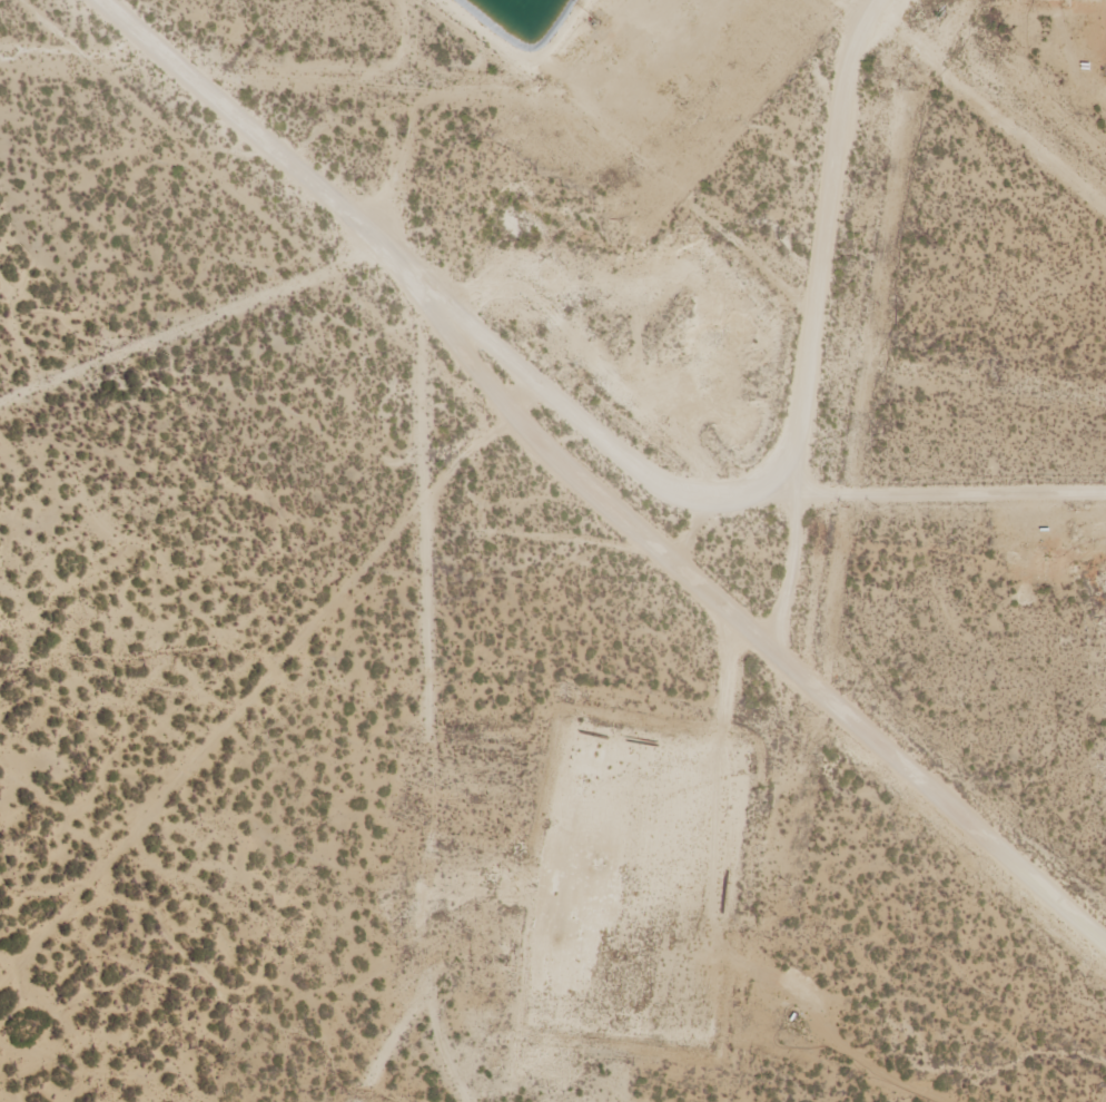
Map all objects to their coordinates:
road: (367, 437)
road: (769, 472)
road: (924, 491)
road: (734, 617)
road: (381, 994)

